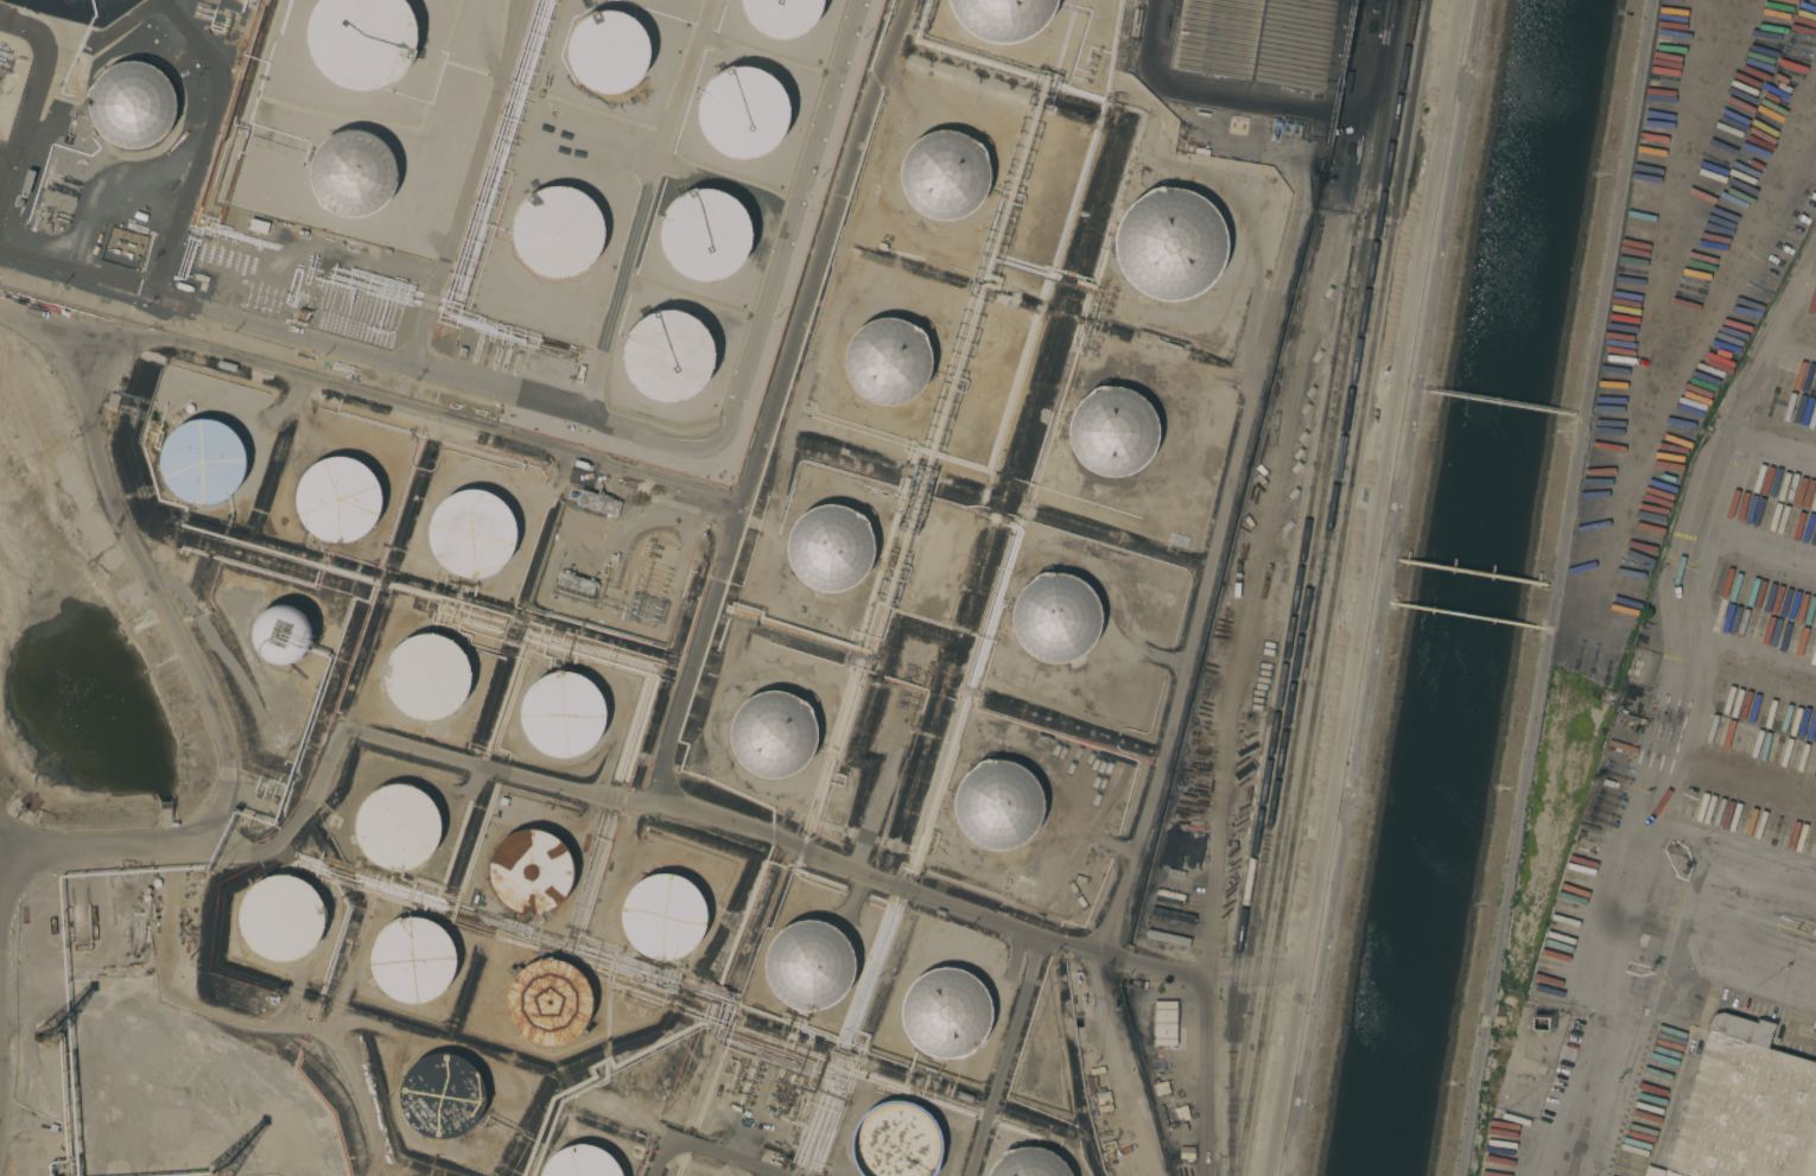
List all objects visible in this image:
building: (782, 15)
building: (1002, 18)
building: (1258, 40)
building: (363, 42)
building: (609, 51)
road: (1214, 93)
road: (28, 95)
building: (131, 104)
building: (744, 114)
road: (4, 170)
building: (355, 173)
building: (944, 174)
building: (258, 225)
building: (559, 230)
building: (703, 230)
building: (1169, 243)
road: (75, 271)
building: (667, 350)
building: (887, 361)
road: (508, 390)
road: (777, 401)
building: (1112, 431)
building: (201, 462)
railway: (1345, 479)
road: (1290, 483)
building: (341, 497)
building: (598, 502)
building: (472, 532)
road: (1713, 534)
railway: (1315, 543)
building: (830, 547)
railway: (1321, 577)
building: (576, 583)
railway: (1334, 587)
road: (1553, 587)
road: (164, 598)
building: (1054, 617)
building: (281, 635)
building: (1646, 638)
building: (424, 676)
railway: (1280, 701)
building: (563, 714)
building: (772, 733)
road: (1155, 778)
road: (591, 788)
building: (996, 805)
building: (396, 827)
road: (1726, 843)
building: (529, 872)
road: (1607, 904)
building: (661, 915)
building: (281, 920)
road: (1713, 926)
building: (1815, 933)
building: (412, 960)
building: (808, 966)
road: (1744, 973)
building: (546, 1003)
building: (1697, 1011)
building: (942, 1013)
road: (8, 1016)
building: (1164, 1023)
building: (1571, 1024)
building: (1148, 1025)
building: (1537, 1026)
road: (1606, 1054)
road: (1007, 1055)
building: (440, 1095)
building: (1745, 1108)
building: (899, 1140)
road: (704, 1152)
building: (582, 1162)
building: (1028, 1163)

